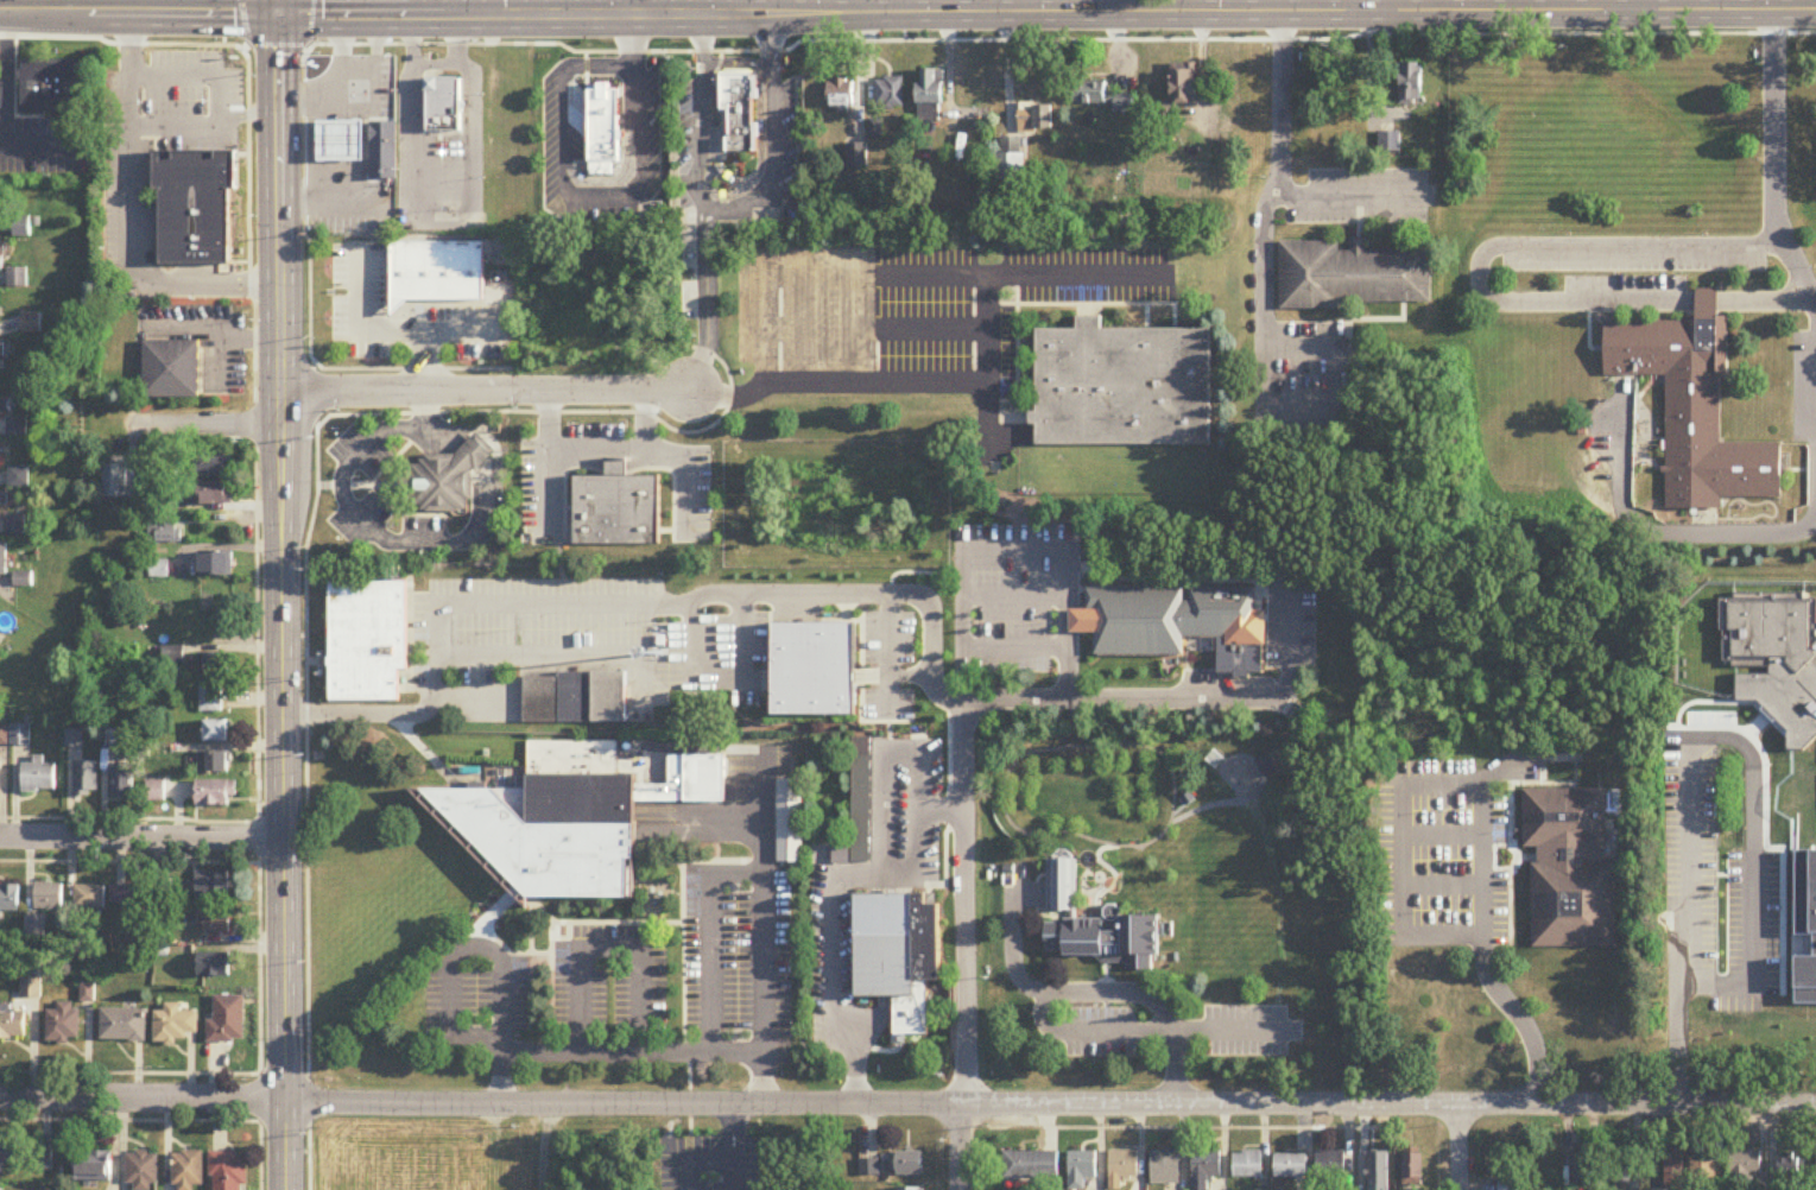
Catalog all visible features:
road: (972, 5)
road: (1371, 5)
road: (32, 6)
road: (154, 6)
road: (192, 6)
road: (393, 6)
road: (437, 6)
road: (639, 6)
road: (844, 6)
road: (907, 6)
road: (1633, 6)
road: (1291, 11)
traffic signals: (276, 13)
road: (384, 13)
road: (243, 21)
road: (308, 23)
road: (223, 29)
road: (798, 39)
road: (273, 43)
road: (372, 53)
road: (436, 63)
road: (5, 82)
building: (1410, 84)
building: (57, 87)
building: (1184, 87)
road: (310, 91)
building: (890, 93)
building: (930, 93)
road: (293, 94)
building: (841, 94)
building: (441, 99)
road: (217, 100)
building: (1108, 100)
building: (742, 109)
road: (246, 115)
building: (1034, 118)
building: (603, 127)
building: (341, 140)
building: (1388, 143)
building: (382, 148)
building: (856, 157)
building: (1008, 166)
road: (1774, 166)
road: (324, 191)
road: (1339, 194)
road: (590, 200)
building: (195, 204)
road: (1266, 207)
road: (726, 209)
road: (132, 215)
road: (442, 216)
building: (153, 257)
building: (1, 267)
road: (1075, 274)
road: (954, 276)
building: (1348, 276)
building: (426, 281)
road: (1482, 290)
road: (704, 302)
road: (204, 329)
road: (385, 331)
road: (245, 338)
building: (1, 352)
road: (200, 360)
building: (170, 368)
building: (1122, 387)
road: (482, 392)
road: (306, 394)
building: (4, 406)
building: (1694, 409)
road: (202, 424)
building: (17, 428)
building: (214, 464)
building: (19, 477)
building: (445, 479)
building: (114, 482)
road: (340, 487)
building: (215, 494)
road: (255, 495)
building: (615, 508)
building: (14, 525)
building: (165, 532)
road: (1653, 534)
road: (992, 544)
road: (305, 552)
building: (2, 559)
building: (215, 565)
building: (159, 570)
road: (281, 594)
road: (596, 599)
building: (1165, 619)
building: (367, 641)
road: (894, 650)
building: (1226, 659)
building: (1774, 663)
building: (214, 665)
building: (575, 698)
building: (211, 701)
road: (1156, 704)
building: (217, 732)
building: (214, 764)
road: (884, 765)
road: (1514, 765)
building: (38, 779)
building: (696, 779)
building: (87, 780)
building: (124, 783)
building: (157, 792)
building: (217, 795)
building: (1804, 803)
road: (1476, 804)
road: (1688, 806)
road: (726, 812)
building: (860, 816)
building: (790, 822)
building: (556, 823)
road: (143, 837)
building: (1569, 869)
building: (213, 886)
building: (1062, 887)
building: (50, 898)
building: (90, 898)
building: (10, 899)
building: (132, 900)
road: (835, 901)
road: (964, 905)
building: (216, 924)
road: (709, 938)
building: (1107, 941)
road: (614, 944)
road: (457, 949)
building: (899, 955)
building: (213, 967)
road: (1088, 994)
building: (227, 1020)
building: (63, 1024)
building: (12, 1025)
building: (122, 1025)
building: (173, 1025)
road: (1090, 1037)
road: (742, 1046)
road: (764, 1076)
road: (143, 1099)
road: (1051, 1107)
road: (963, 1148)
road: (1456, 1148)
building: (4, 1160)
building: (909, 1165)
building: (1031, 1166)
building: (1124, 1166)
building: (1247, 1166)
building: (91, 1167)
building: (1081, 1169)
building: (1164, 1169)
building: (1204, 1169)
building: (1290, 1169)
building: (869, 1170)
building: (1582, 1170)
building: (1619, 1170)
building: (1744, 1170)
building: (141, 1171)
building: (188, 1171)
building: (1330, 1171)
building: (1378, 1171)
building: (1673, 1171)
building: (1703, 1171)
building: (1791, 1171)
building: (229, 1172)
building: (1412, 1172)
building: (1507, 1185)
building: (911, 1189)

